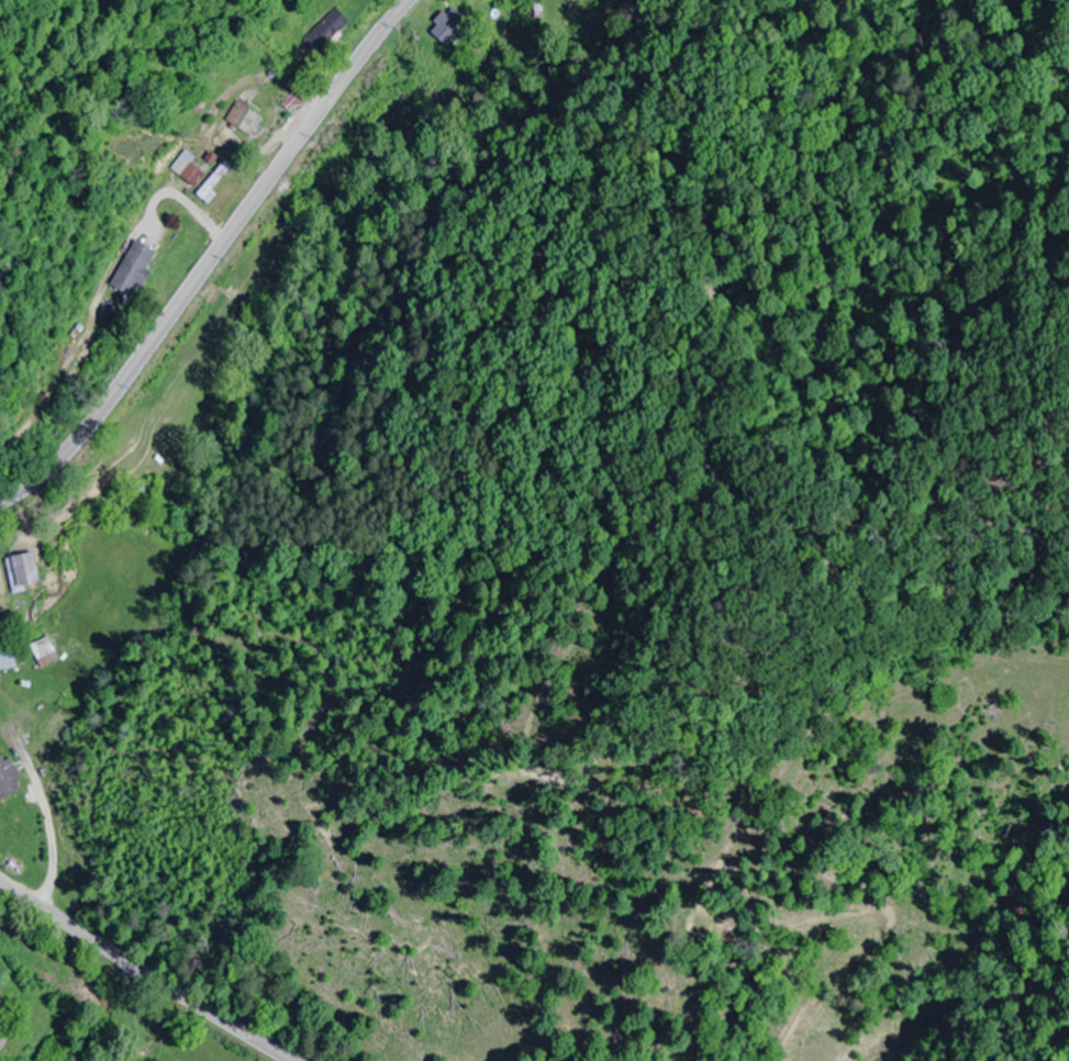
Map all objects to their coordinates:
building: (488, 1)
building: (330, 31)
building: (447, 31)
building: (244, 119)
building: (192, 176)
road: (216, 263)
building: (134, 270)
building: (23, 572)
building: (45, 652)
building: (8, 659)
building: (9, 778)
road: (59, 923)
road: (116, 1008)
road: (199, 1009)

